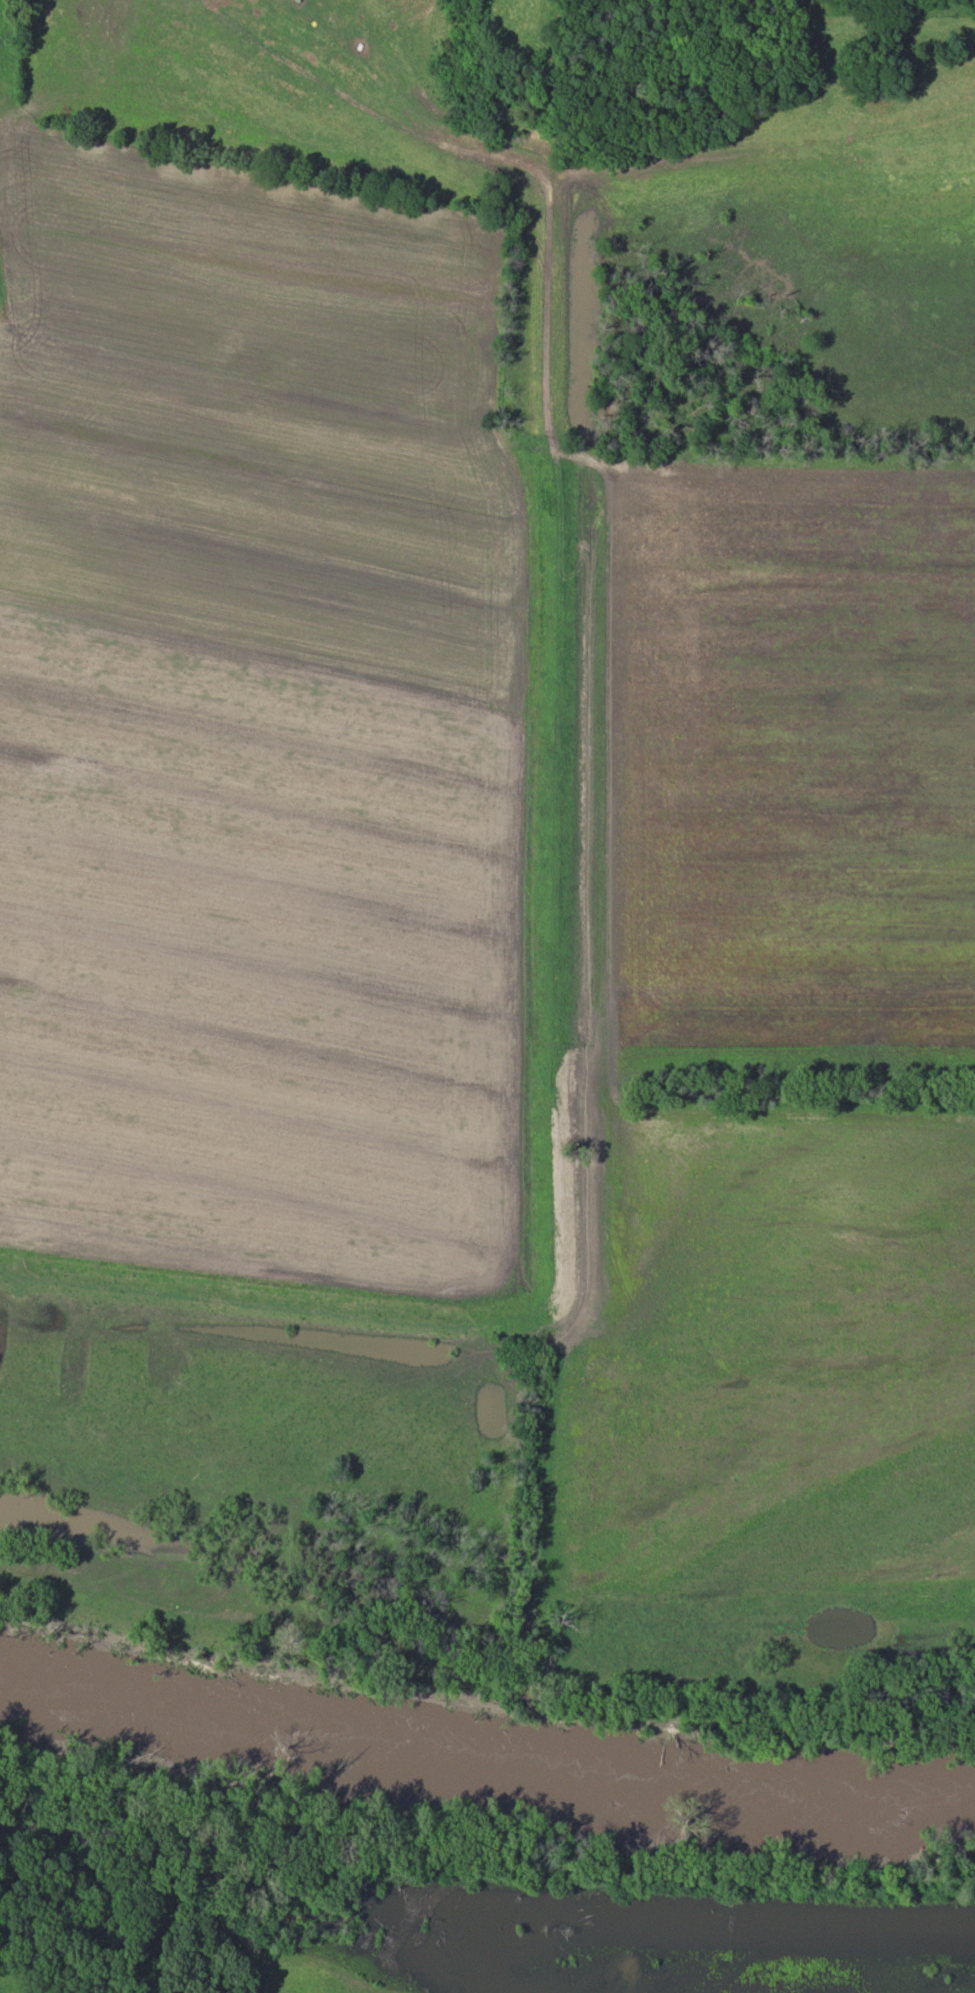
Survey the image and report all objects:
river: (484, 1756)

